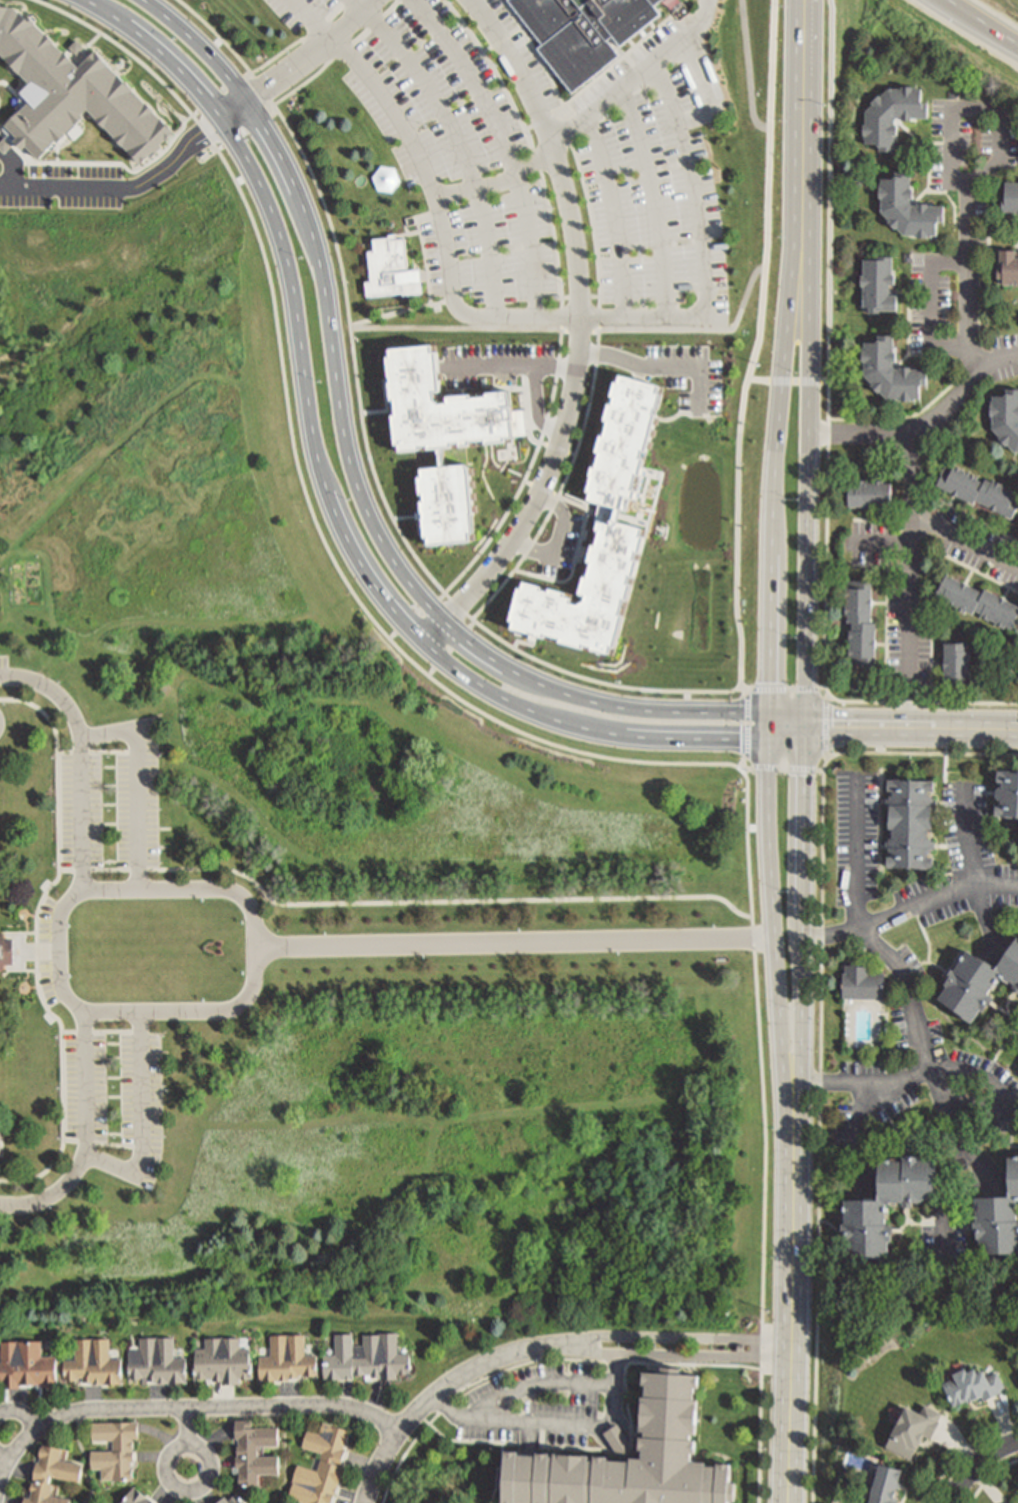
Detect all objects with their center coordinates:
road: (355, 5)
road: (316, 17)
road: (984, 20)
road: (347, 21)
building: (584, 32)
road: (216, 33)
road: (808, 40)
road: (302, 41)
road: (336, 54)
road: (767, 62)
road: (746, 68)
road: (273, 80)
road: (221, 92)
road: (264, 92)
building: (73, 95)
road: (975, 106)
road: (582, 117)
building: (888, 123)
road: (248, 132)
road: (293, 135)
road: (504, 146)
road: (459, 147)
parking lot: (457, 153)
road: (553, 156)
road: (126, 191)
parking lot: (657, 192)
road: (772, 194)
road: (653, 197)
building: (1009, 205)
road: (611, 213)
building: (905, 214)
road: (440, 221)
road: (703, 244)
road: (425, 258)
building: (391, 271)
building: (1006, 271)
road: (966, 278)
building: (873, 294)
road: (923, 294)
road: (396, 314)
road: (582, 331)
building: (885, 362)
road: (997, 362)
road: (507, 365)
road: (662, 368)
road: (642, 374)
road: (788, 382)
road: (780, 394)
road: (384, 396)
road: (807, 404)
road: (537, 407)
road: (949, 407)
building: (1005, 411)
road: (375, 415)
road: (859, 432)
building: (443, 439)
road: (828, 442)
road: (558, 449)
road: (351, 465)
road: (528, 473)
building: (976, 486)
road: (563, 487)
building: (862, 489)
road: (330, 497)
road: (534, 501)
road: (403, 520)
building: (605, 532)
road: (559, 540)
road: (581, 540)
road: (964, 541)
road: (909, 578)
building: (972, 597)
building: (856, 621)
building: (952, 659)
road: (414, 664)
building: (1017, 667)
parking lot: (4, 671)
road: (563, 672)
building: (1017, 681)
road: (787, 690)
traffic signals: (769, 708)
road: (787, 717)
traffic signals: (805, 727)
road: (827, 727)
road: (911, 728)
road: (748, 730)
traffic signals: (770, 733)
road: (81, 757)
road: (783, 768)
road: (137, 784)
building: (1005, 791)
parking lot: (113, 804)
building: (906, 817)
road: (971, 837)
road: (854, 854)
road: (227, 889)
road: (403, 899)
road: (909, 908)
road: (516, 944)
building: (7, 952)
parking lot: (54, 952)
building: (976, 973)
building: (860, 983)
road: (778, 984)
road: (908, 990)
road: (803, 993)
road: (822, 1035)
road: (858, 1082)
road: (968, 1088)
parking lot: (117, 1096)
road: (142, 1118)
road: (87, 1133)
building: (1, 1143)
road: (981, 1160)
building: (861, 1208)
building: (998, 1215)
road: (675, 1337)
road: (675, 1354)
building: (287, 1355)
building: (366, 1358)
road: (763, 1360)
building: (221, 1361)
building: (27, 1363)
building: (93, 1363)
building: (158, 1363)
road: (790, 1381)
building: (973, 1387)
road: (436, 1393)
parking lot: (537, 1406)
road: (185, 1407)
road: (21, 1413)
road: (552, 1423)
road: (189, 1426)
building: (914, 1431)
building: (120, 1445)
road: (965, 1451)
building: (253, 1454)
road: (5, 1456)
building: (623, 1462)
road: (976, 1464)
building: (316, 1466)
building: (58, 1475)
road: (991, 1477)
road: (171, 1480)
building: (885, 1487)
building: (235, 1498)
building: (134, 1499)
building: (240, 1499)
building: (218, 1502)

